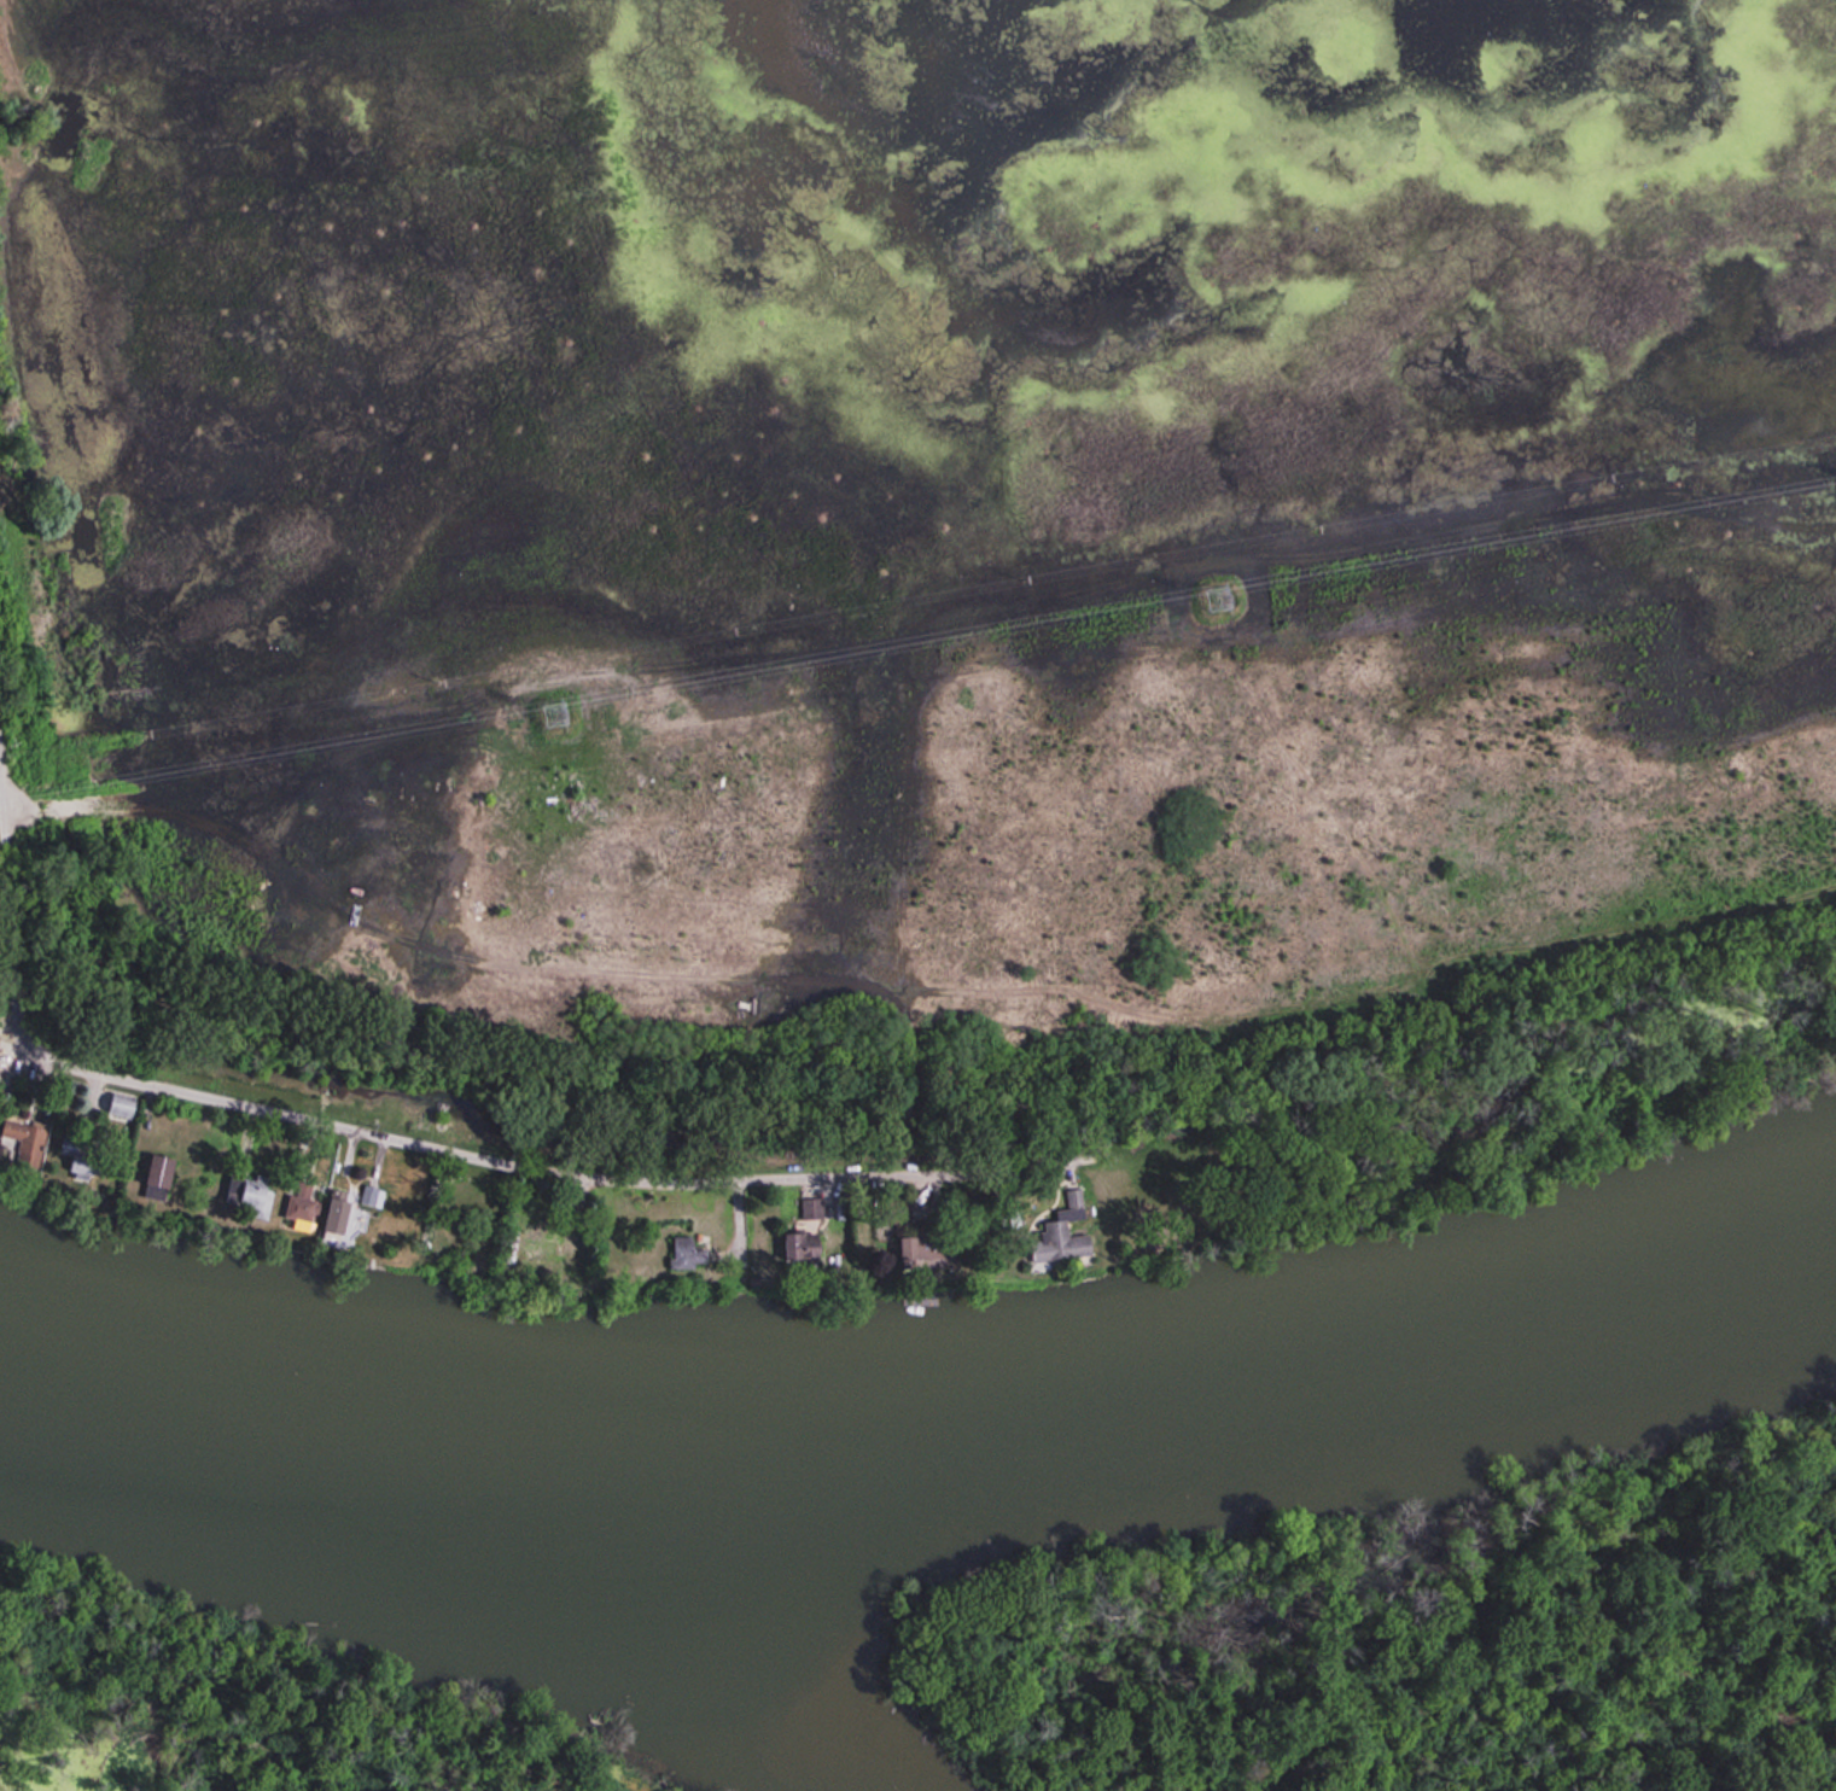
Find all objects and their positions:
power tower: (1217, 601)
power tower: (555, 716)
road: (8, 880)
building: (449, 906)
road: (12, 1037)
building: (124, 1105)
building: (29, 1139)
building: (86, 1160)
road: (534, 1172)
building: (163, 1175)
building: (251, 1194)
building: (304, 1203)
building: (343, 1212)
building: (1067, 1235)
building: (543, 1248)
building: (689, 1250)
river: (928, 1451)

